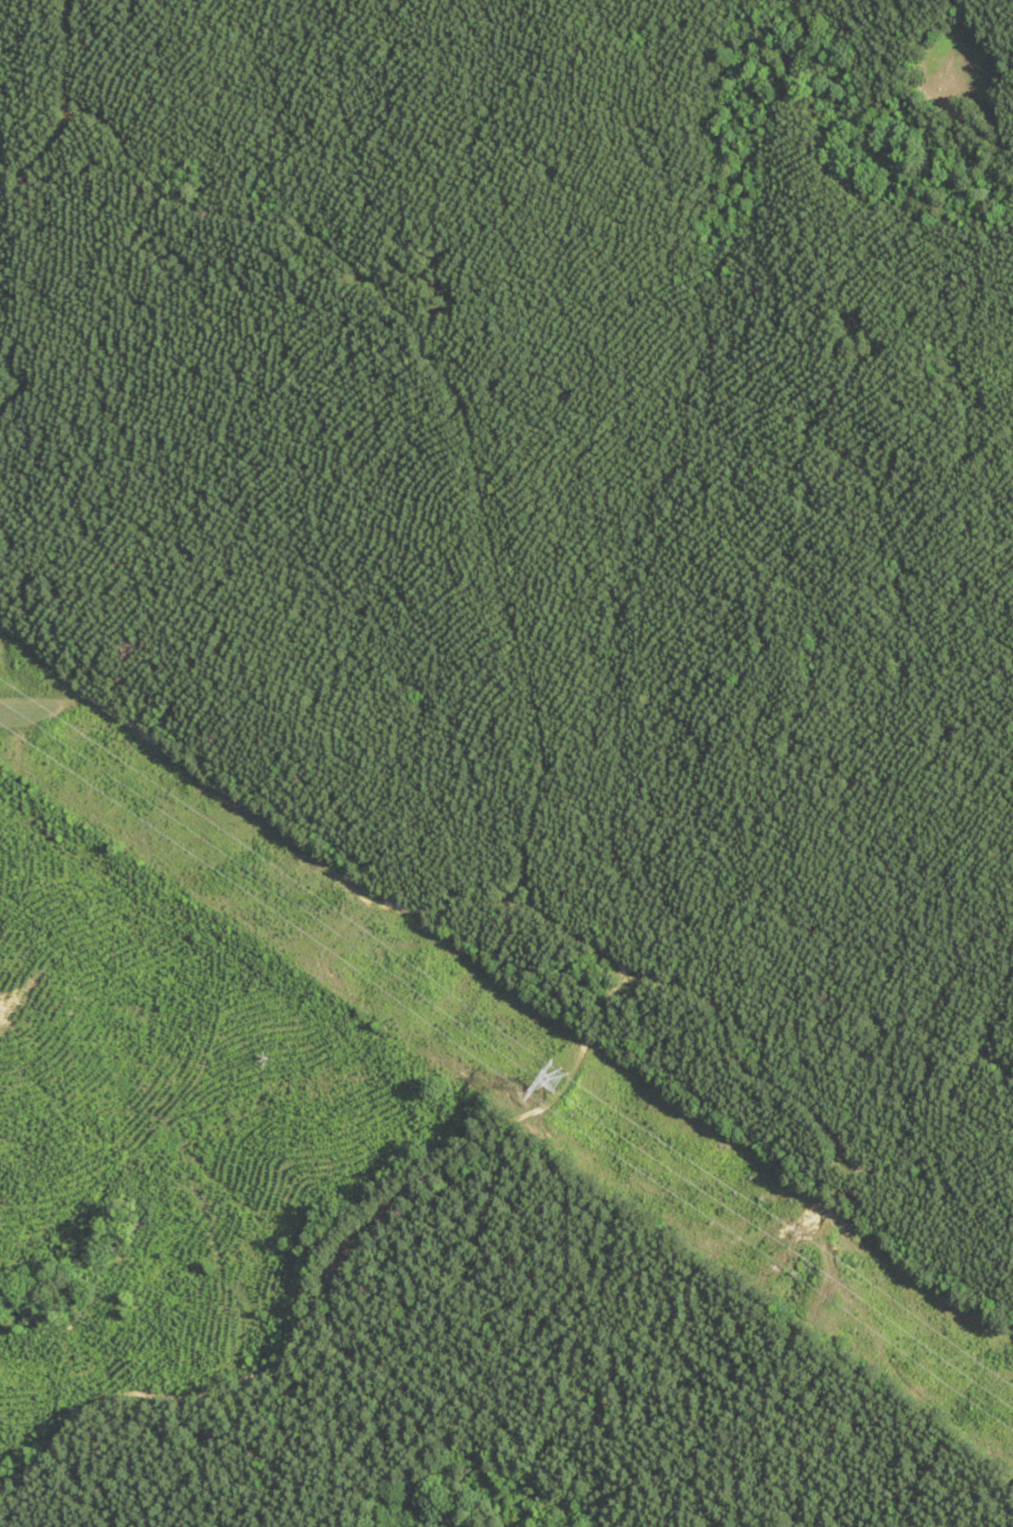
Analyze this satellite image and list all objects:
power tower: (562, 1078)

